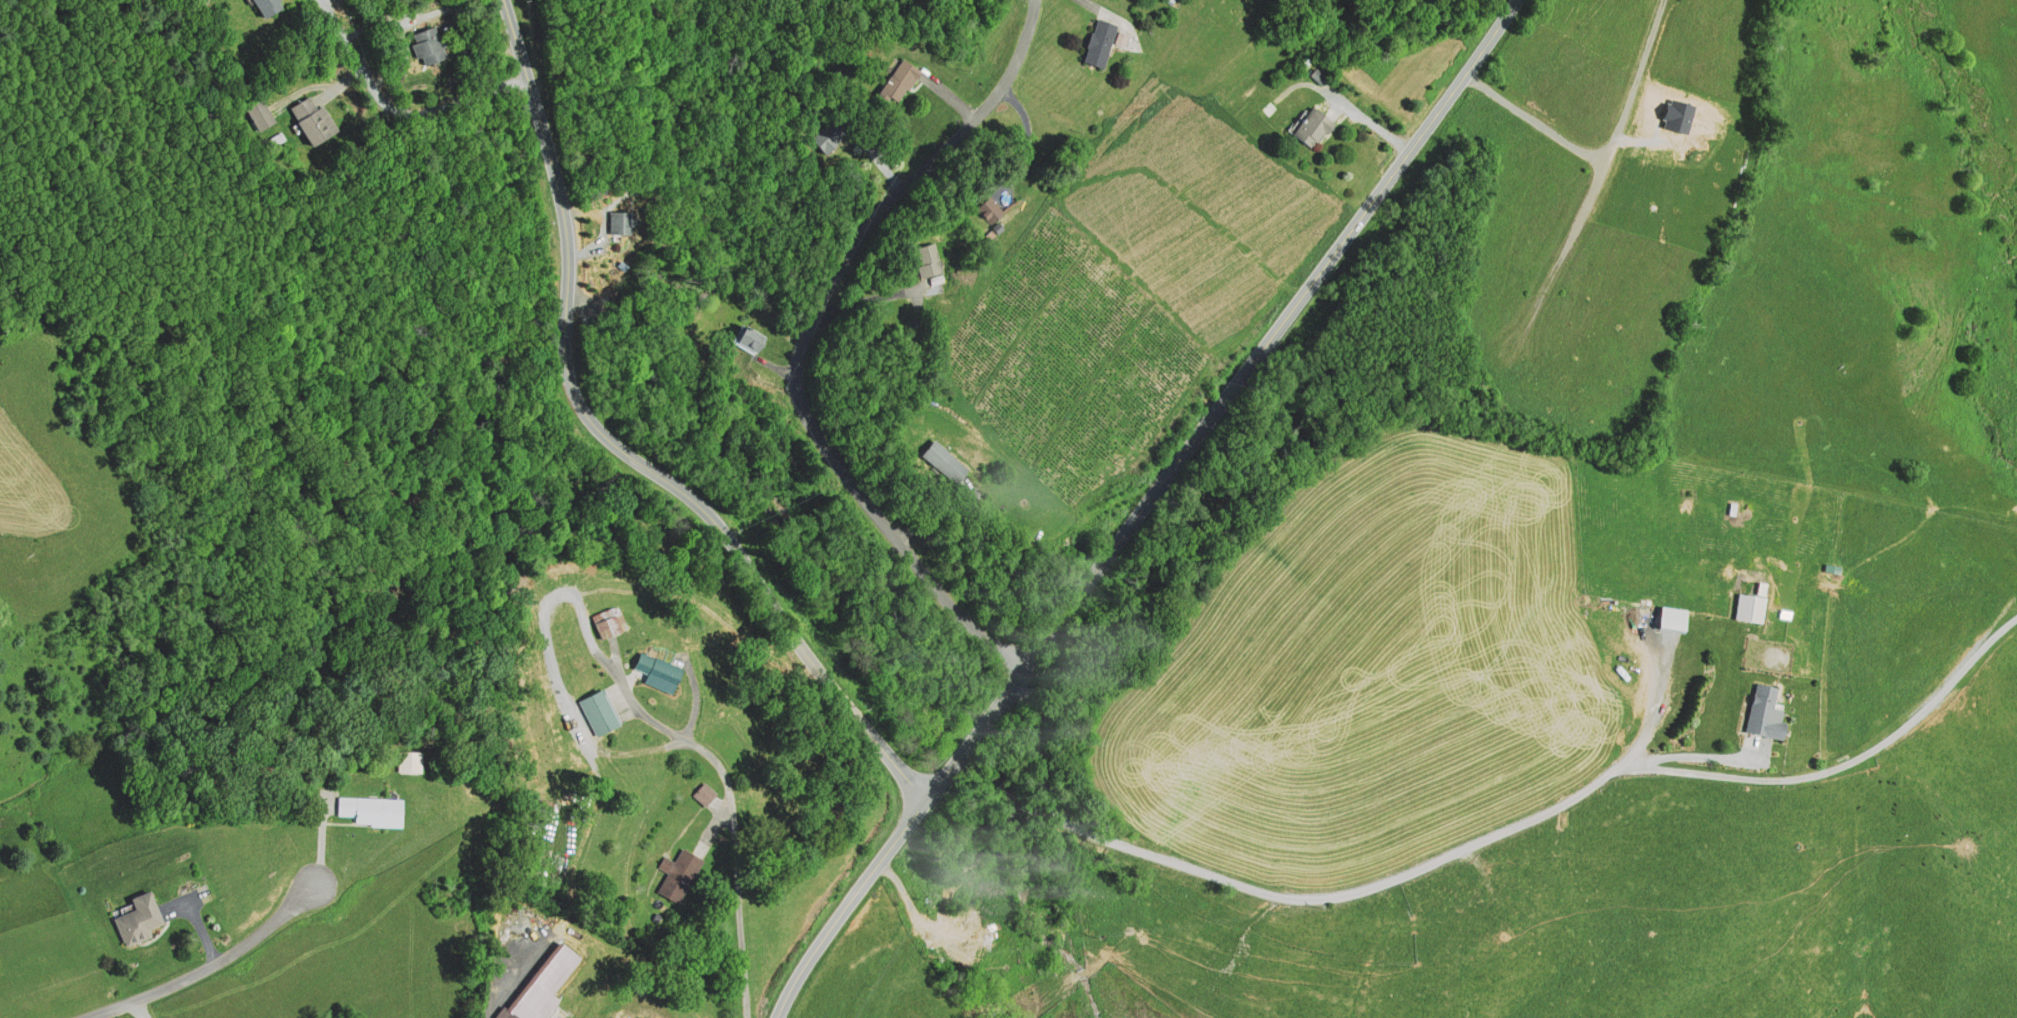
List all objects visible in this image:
building: (268, 6)
building: (1102, 41)
building: (428, 44)
building: (1317, 76)
building: (900, 78)
road: (396, 107)
building: (258, 113)
building: (313, 119)
building: (1313, 124)
building: (827, 134)
road: (1606, 157)
building: (991, 207)
building: (619, 221)
road: (1570, 235)
building: (930, 260)
building: (750, 337)
road: (811, 340)
road: (1265, 345)
road: (619, 445)
building: (946, 462)
building: (1752, 605)
building: (609, 620)
building: (656, 668)
building: (598, 710)
building: (1767, 711)
road: (978, 734)
building: (411, 760)
building: (705, 793)
building: (374, 808)
road: (735, 819)
road: (1490, 834)
building: (680, 872)
road: (855, 894)
building: (142, 920)
road: (212, 962)
road: (139, 1010)
building: (505, 1014)

